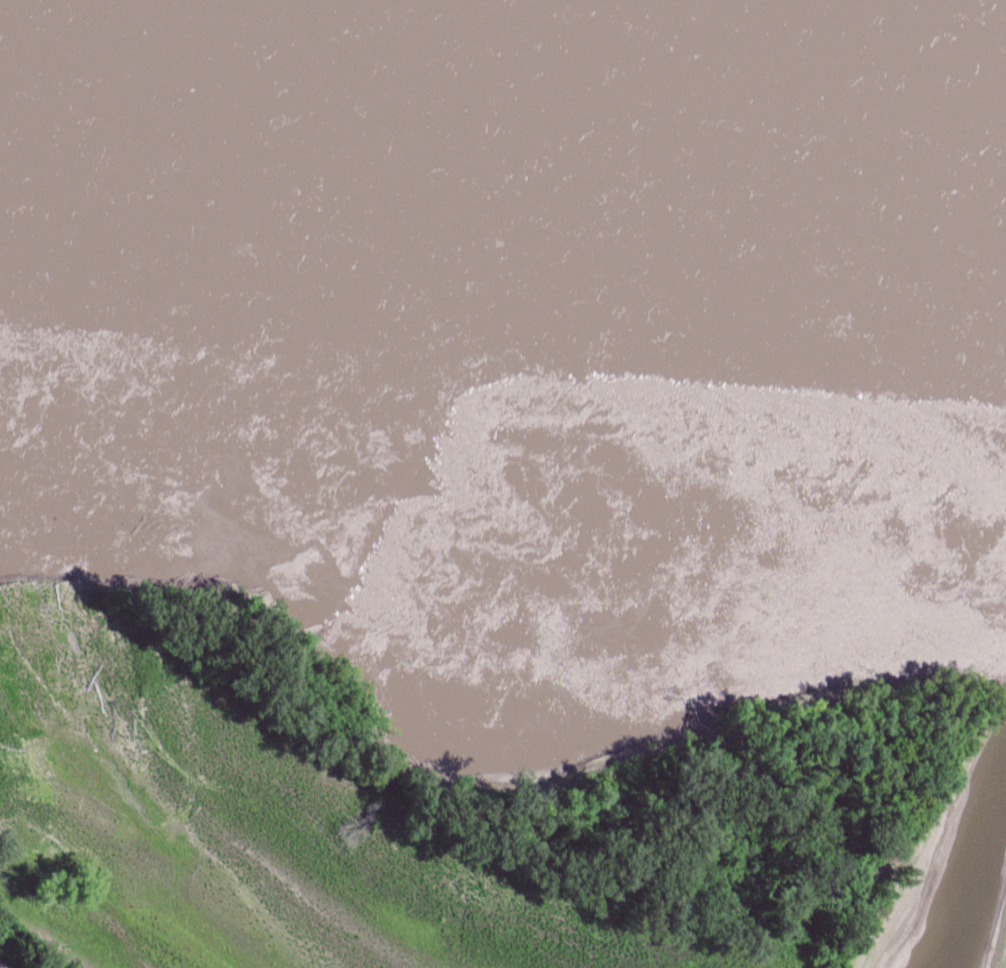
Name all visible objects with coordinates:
river: (503, 223)

